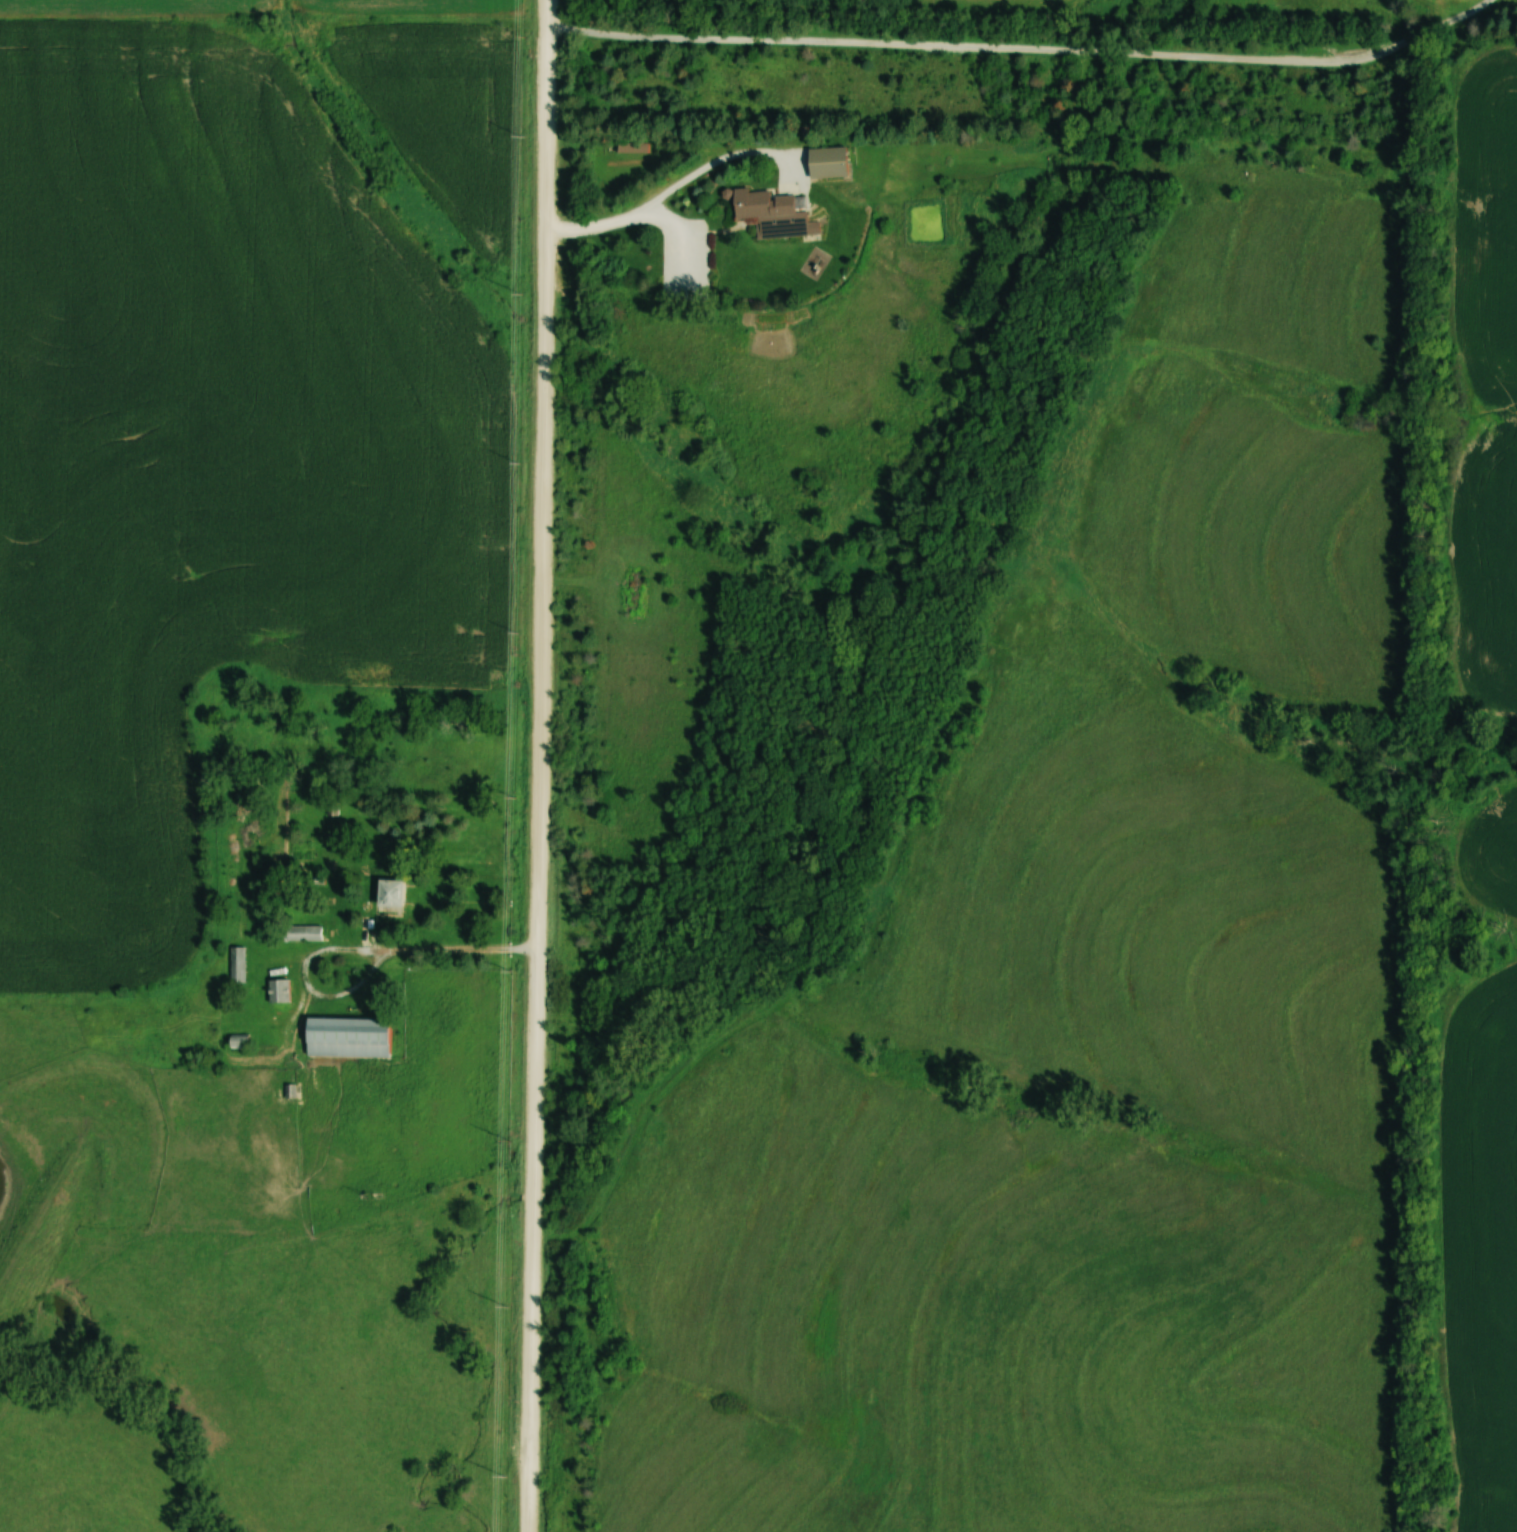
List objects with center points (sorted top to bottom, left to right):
road: (1025, 48)
building: (630, 145)
building: (826, 161)
road: (678, 184)
building: (773, 213)
road: (539, 766)
building: (388, 893)
building: (301, 933)
road: (355, 948)
building: (236, 964)
building: (277, 991)
building: (345, 1037)
building: (235, 1041)
dam: (42, 1207)

